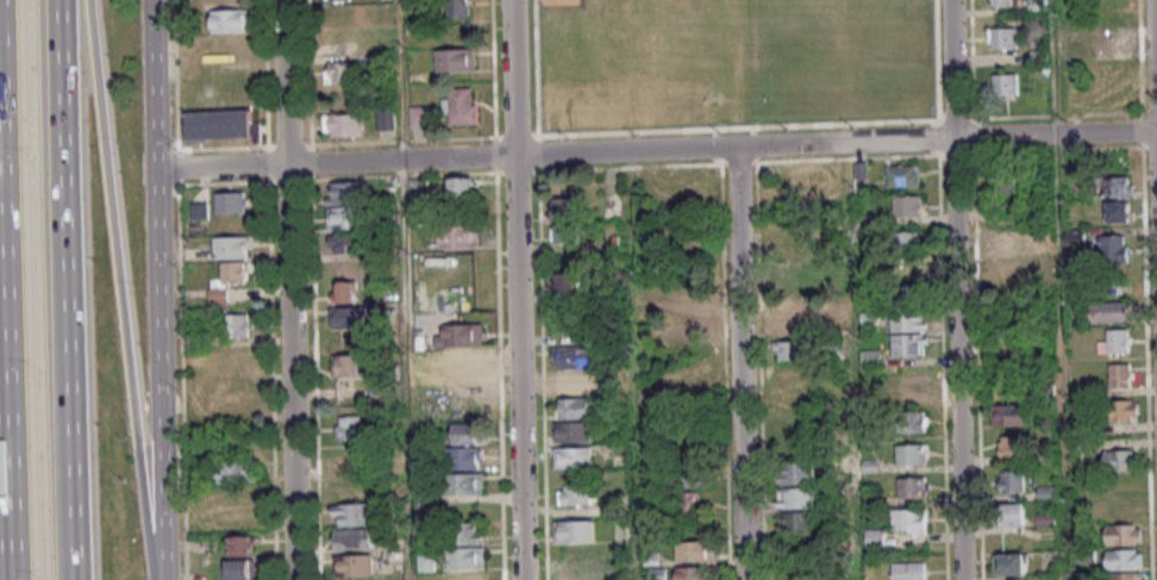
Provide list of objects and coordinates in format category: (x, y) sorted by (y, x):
building: (336, 0)
building: (1001, 2)
building: (457, 8)
building: (232, 20)
building: (1002, 37)
building: (1109, 46)
building: (455, 60)
road: (1155, 64)
building: (339, 71)
road: (284, 82)
building: (1005, 83)
building: (459, 106)
building: (384, 119)
building: (221, 125)
building: (343, 125)
road: (730, 127)
road: (656, 150)
building: (902, 175)
building: (1003, 179)
building: (461, 187)
building: (1119, 187)
building: (233, 201)
building: (345, 205)
building: (906, 205)
building: (571, 207)
building: (1119, 211)
building: (569, 233)
building: (459, 236)
building: (906, 241)
building: (1002, 242)
building: (345, 243)
building: (233, 248)
building: (1114, 249)
building: (911, 269)
building: (237, 273)
building: (1009, 273)
building: (789, 277)
building: (568, 282)
road: (60, 289)
road: (158, 289)
road: (517, 289)
road: (956, 289)
road: (118, 291)
building: (343, 291)
building: (913, 292)
building: (690, 304)
building: (1108, 311)
building: (348, 317)
building: (909, 320)
building: (792, 324)
building: (238, 325)
building: (694, 328)
building: (459, 336)
building: (1115, 341)
building: (909, 344)
building: (792, 350)
building: (571, 357)
building: (870, 357)
building: (462, 360)
road: (739, 363)
building: (346, 366)
road: (290, 372)
building: (1121, 374)
building: (573, 382)
building: (462, 386)
building: (912, 388)
building: (239, 395)
building: (573, 407)
building: (432, 409)
building: (1120, 410)
building: (1011, 414)
building: (913, 422)
building: (348, 429)
building: (571, 431)
building: (465, 432)
building: (1009, 445)
building: (911, 454)
building: (463, 457)
building: (571, 457)
building: (349, 460)
building: (1120, 460)
road: (2, 463)
building: (234, 470)
building: (795, 473)
building: (692, 478)
building: (1012, 481)
building: (463, 482)
building: (911, 487)
building: (354, 488)
building: (1046, 492)
building: (575, 494)
building: (795, 498)
building: (689, 505)
building: (242, 507)
building: (354, 513)
building: (1011, 513)
building: (909, 520)
building: (796, 523)
building: (574, 531)
building: (470, 532)
building: (1122, 534)
building: (354, 538)
building: (875, 538)
building: (242, 545)
building: (695, 550)
building: (465, 557)
building: (1124, 559)
building: (1009, 563)
building: (355, 565)
building: (239, 569)
building: (576, 570)
building: (908, 570)
building: (690, 573)
building: (657, 574)
building: (465, 575)
building: (1125, 575)

